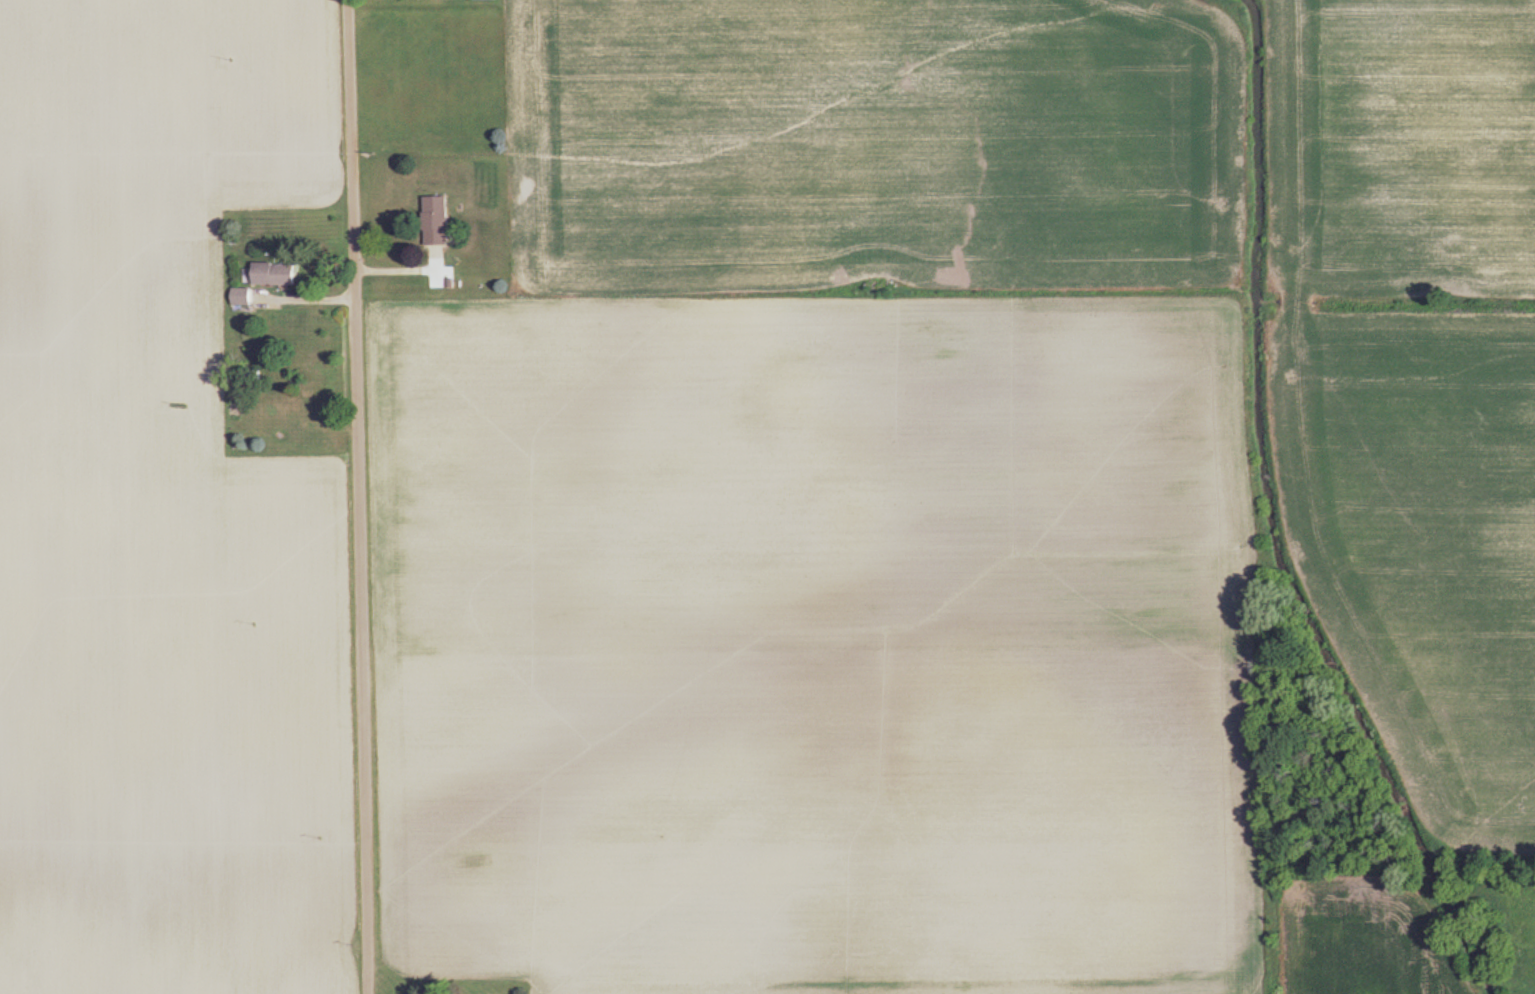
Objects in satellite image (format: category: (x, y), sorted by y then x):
building: (440, 220)
building: (278, 273)
road: (360, 497)

